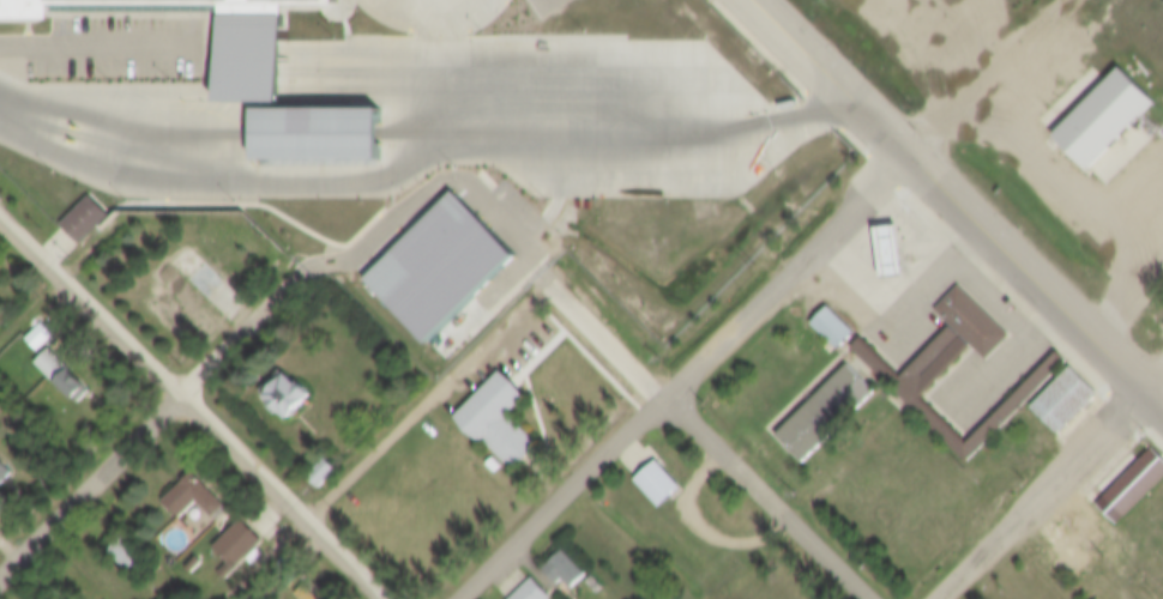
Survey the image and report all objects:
road: (457, 2)
building: (25, 11)
road: (957, 37)
building: (255, 52)
road: (987, 80)
building: (1104, 122)
road: (424, 129)
building: (319, 134)
road: (248, 184)
road: (956, 205)
road: (507, 211)
building: (84, 220)
building: (162, 238)
building: (896, 252)
gas station: (896, 252)
building: (441, 270)
building: (187, 291)
road: (1133, 319)
building: (833, 329)
building: (40, 338)
road: (603, 338)
road: (210, 371)
building: (929, 371)
road: (682, 375)
building: (62, 376)
road: (1155, 388)
building: (290, 398)
road: (436, 398)
road: (201, 399)
building: (1053, 407)
building: (827, 416)
building: (500, 423)
road: (1085, 458)
building: (493, 467)
building: (321, 473)
building: (4, 474)
building: (658, 485)
building: (1134, 488)
building: (192, 498)
road: (761, 498)
building: (1085, 531)
building: (237, 549)
building: (131, 558)
road: (11, 559)
road: (984, 559)
building: (193, 568)
building: (566, 573)
building: (303, 592)
building: (531, 592)

